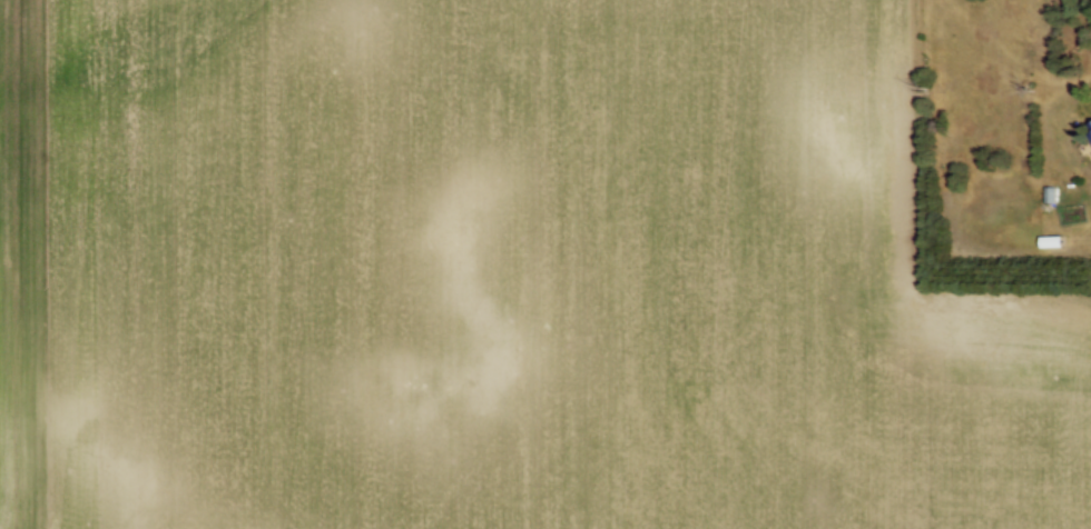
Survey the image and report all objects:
building: (1090, 123)
crop: (503, 275)

